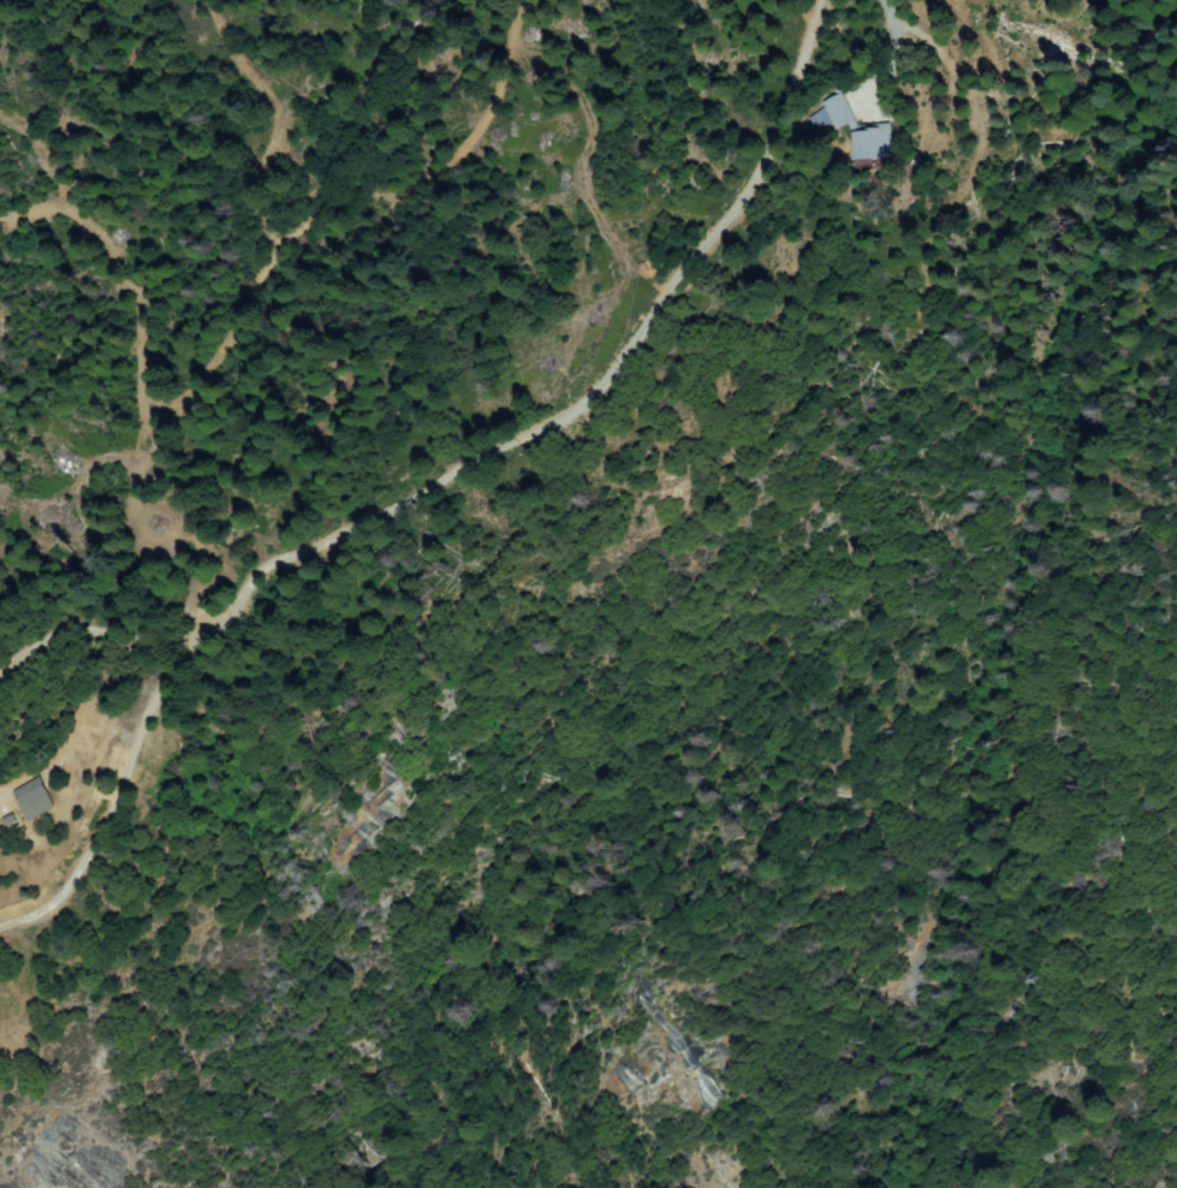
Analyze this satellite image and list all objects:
building: (839, 111)
building: (874, 142)
building: (30, 792)

